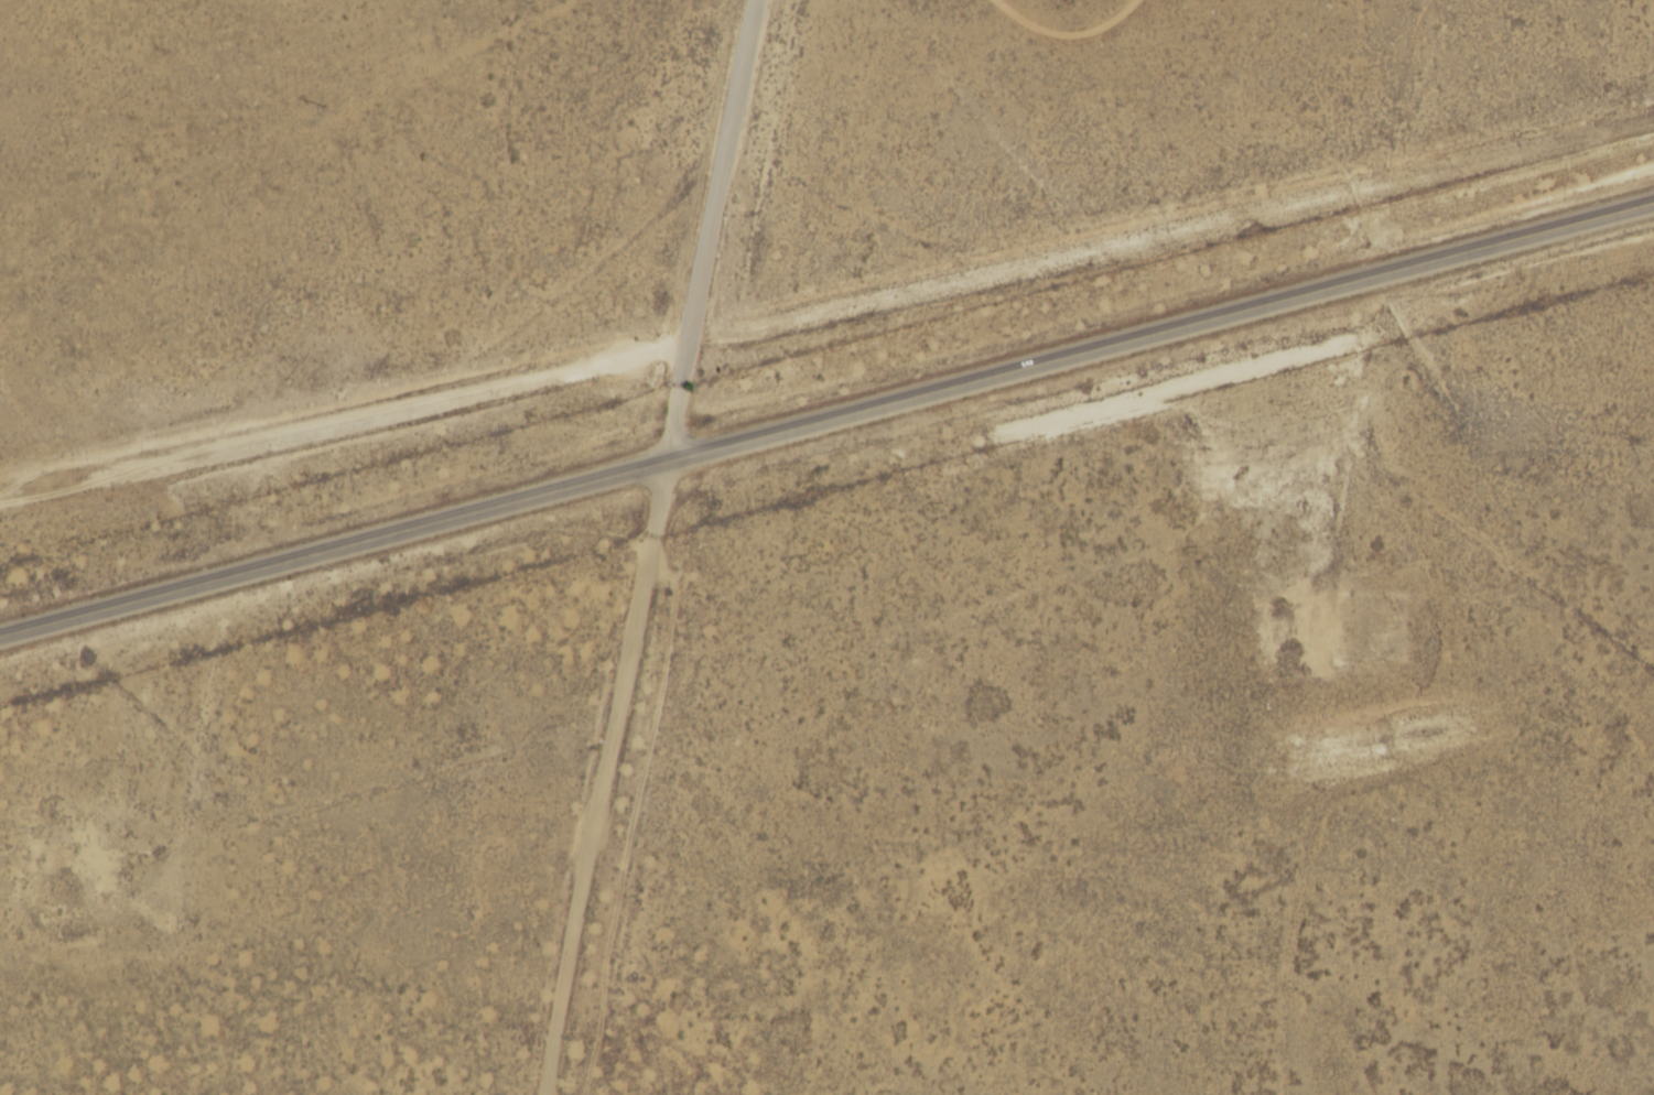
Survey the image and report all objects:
road: (706, 238)
road: (825, 315)
road: (828, 432)
wastewater plant: (1298, 647)
wastewater plant: (1351, 651)
road: (590, 787)

